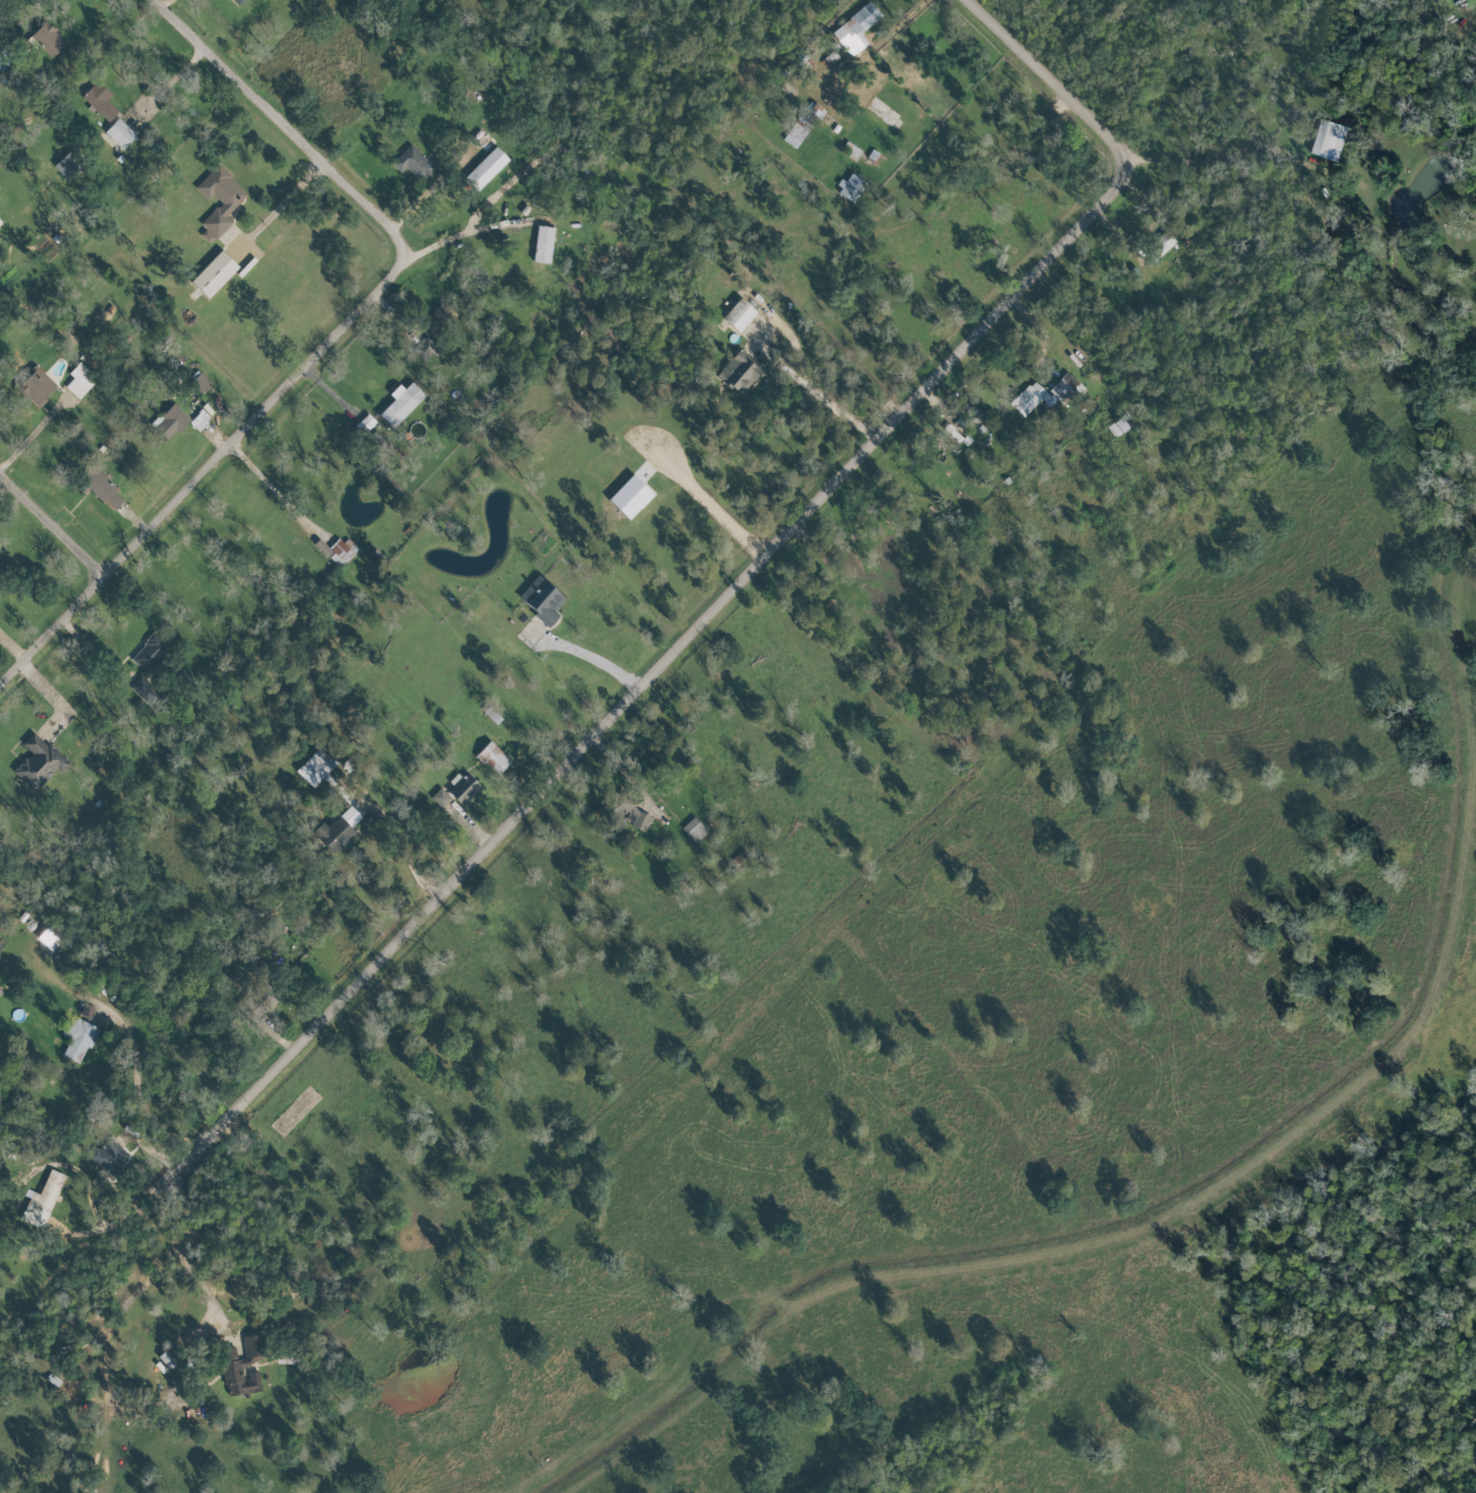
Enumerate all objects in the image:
building: (241, 1)
building: (857, 29)
building: (49, 40)
building: (4, 59)
building: (100, 101)
building: (820, 112)
road: (283, 125)
building: (797, 132)
building: (121, 134)
building: (1331, 140)
building: (851, 151)
building: (414, 163)
building: (68, 166)
building: (488, 169)
building: (852, 187)
building: (224, 209)
building: (1, 222)
road: (456, 238)
building: (1165, 242)
building: (544, 245)
building: (216, 274)
building: (741, 315)
building: (438, 319)
building: (425, 349)
building: (740, 373)
building: (81, 381)
building: (201, 384)
building: (37, 387)
building: (1044, 396)
building: (402, 403)
building: (180, 420)
building: (365, 424)
building: (1119, 428)
road: (206, 475)
building: (103, 490)
building: (632, 497)
road: (52, 528)
building: (338, 551)
building: (0, 574)
building: (544, 601)
road: (706, 621)
building: (150, 653)
road: (599, 656)
building: (145, 690)
building: (494, 758)
building: (39, 762)
building: (316, 767)
building: (463, 787)
building: (442, 800)
building: (631, 810)
building: (602, 812)
building: (694, 829)
building: (339, 830)
road: (401, 848)
road: (37, 959)
building: (79, 1039)
building: (108, 1155)
building: (43, 1201)
road: (199, 1270)
building: (168, 1360)
building: (245, 1368)

